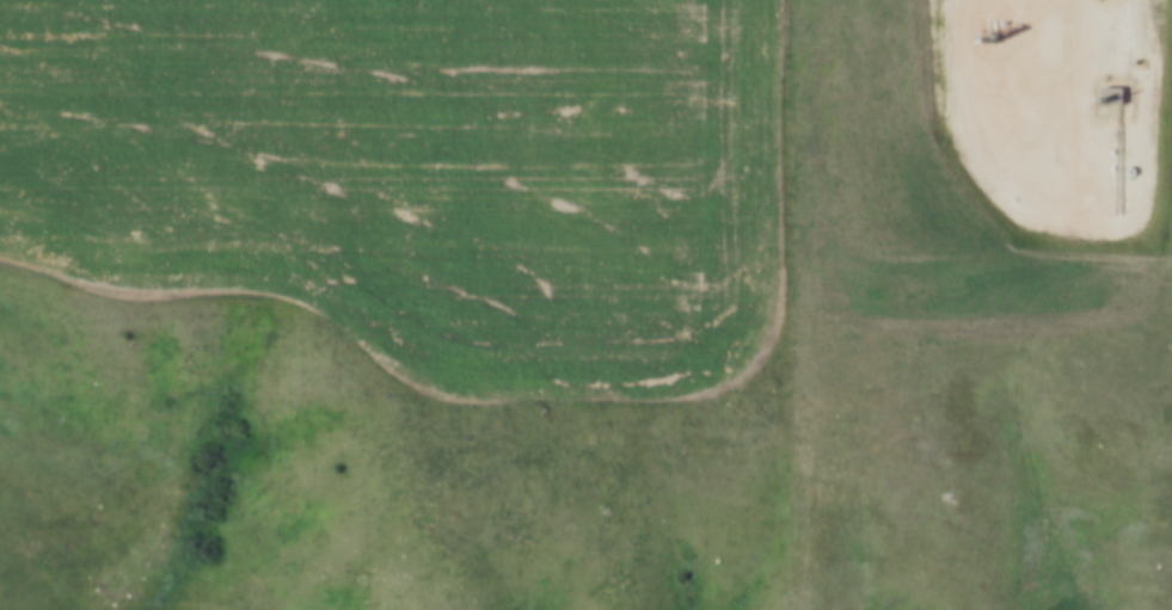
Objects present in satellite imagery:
petroleum well: (989, 25)
road: (1013, 66)

